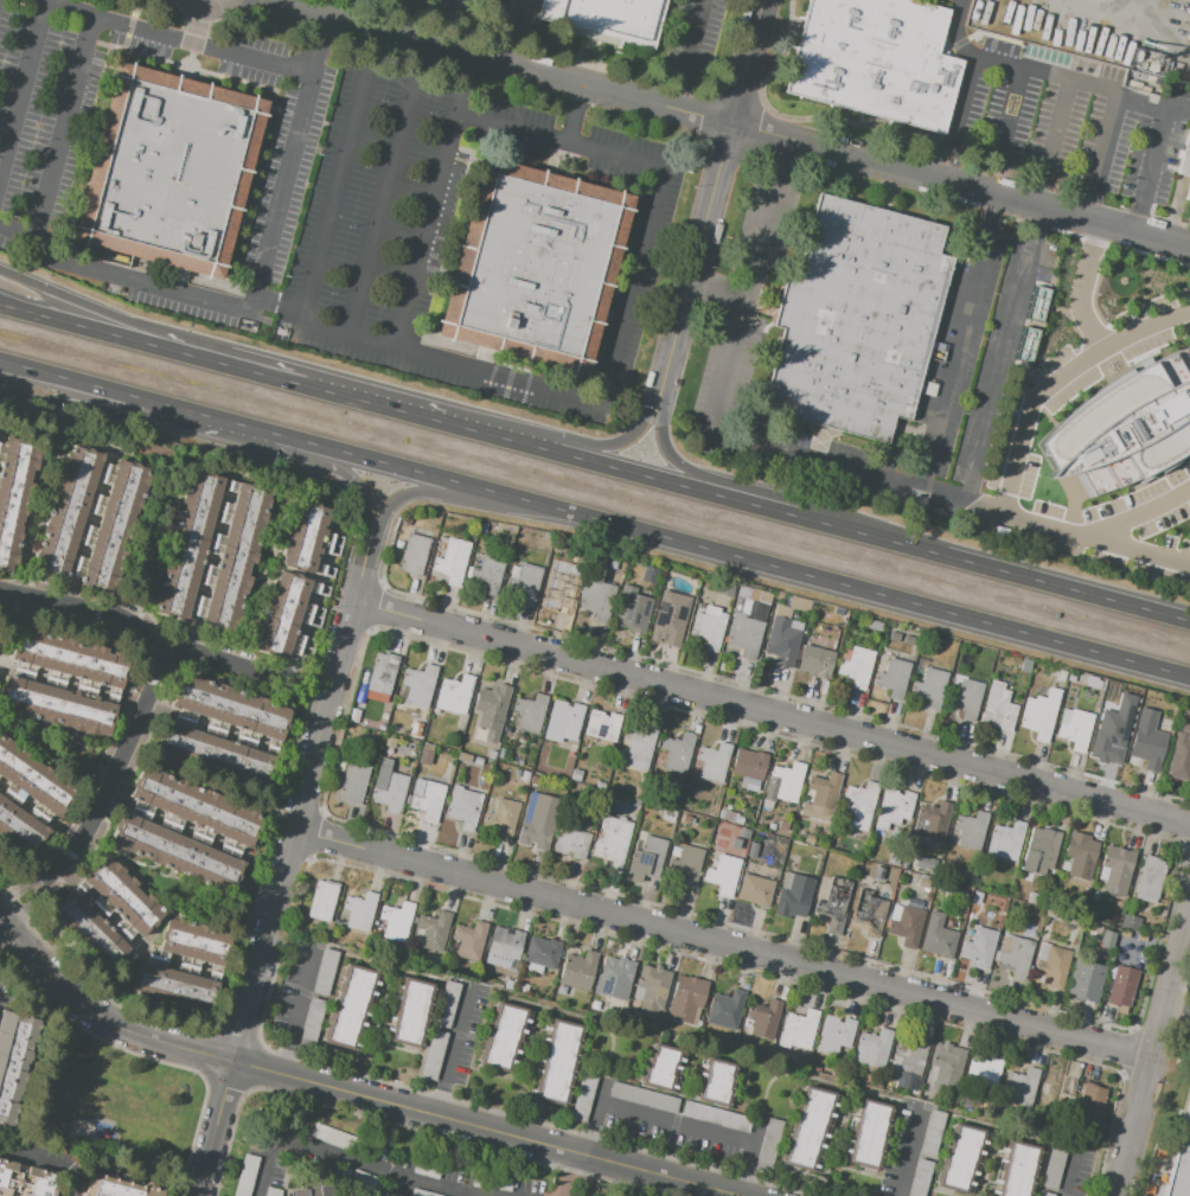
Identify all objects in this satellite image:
building: (604, 20)
road: (957, 30)
road: (503, 31)
road: (177, 38)
building: (1021, 50)
road: (689, 55)
building: (876, 60)
road: (493, 62)
building: (1067, 62)
road: (1035, 72)
road: (23, 81)
road: (1009, 111)
road: (481, 119)
road: (1106, 139)
road: (1054, 142)
building: (1184, 156)
road: (946, 162)
road: (781, 164)
road: (1149, 166)
building: (171, 168)
road: (282, 180)
road: (716, 181)
road: (960, 185)
road: (383, 188)
building: (1188, 192)
road: (1089, 202)
road: (992, 213)
road: (1038, 225)
road: (424, 230)
building: (533, 264)
road: (126, 277)
road: (1081, 287)
building: (1037, 294)
road: (715, 303)
building: (856, 319)
parking lot: (1183, 325)
road: (149, 331)
road: (152, 341)
building: (1025, 341)
road: (954, 365)
road: (493, 373)
road: (997, 375)
road: (418, 411)
road: (126, 412)
building: (1125, 426)
road: (623, 442)
road: (731, 442)
road: (1013, 463)
road: (705, 477)
road: (353, 479)
parking lot: (967, 486)
building: (14, 495)
road: (469, 499)
road: (1138, 516)
building: (89, 519)
building: (405, 520)
road: (594, 520)
building: (481, 527)
road: (862, 531)
building: (303, 537)
building: (212, 551)
building: (414, 554)
building: (452, 559)
building: (513, 573)
building: (487, 574)
building: (524, 583)
building: (417, 587)
building: (725, 588)
building: (559, 591)
building: (595, 595)
building: (703, 595)
building: (761, 596)
building: (792, 607)
building: (632, 610)
building: (757, 612)
building: (289, 614)
building: (672, 619)
building: (743, 626)
building: (709, 628)
building: (876, 637)
building: (894, 637)
building: (782, 640)
building: (908, 640)
building: (814, 660)
road: (224, 661)
building: (855, 665)
building: (1025, 666)
building: (1054, 673)
building: (1061, 676)
building: (1070, 677)
building: (894, 678)
building: (376, 679)
building: (68, 683)
building: (1092, 683)
building: (417, 686)
building: (930, 687)
building: (454, 695)
road: (307, 696)
building: (966, 698)
building: (997, 709)
building: (491, 712)
road: (772, 712)
building: (530, 714)
building: (1041, 714)
building: (383, 716)
road: (137, 722)
building: (563, 722)
building: (602, 724)
building: (380, 728)
building: (1074, 728)
building: (415, 730)
building: (222, 731)
building: (1111, 736)
building: (1146, 743)
building: (452, 746)
building: (638, 746)
building: (1181, 749)
building: (446, 752)
building: (426, 753)
building: (677, 753)
building: (503, 754)
building: (491, 755)
building: (465, 757)
building: (478, 761)
building: (531, 761)
building: (518, 762)
building: (712, 762)
building: (748, 768)
building: (517, 773)
building: (576, 774)
building: (532, 780)
building: (352, 781)
building: (589, 781)
building: (785, 784)
building: (600, 785)
building: (570, 786)
building: (581, 788)
building: (389, 791)
building: (635, 793)
building: (820, 798)
building: (28, 799)
building: (427, 799)
building: (750, 802)
road: (300, 806)
building: (857, 806)
building: (463, 808)
building: (894, 808)
building: (747, 814)
building: (668, 816)
building: (503, 817)
building: (730, 817)
building: (686, 819)
building: (933, 819)
building: (538, 821)
building: (782, 825)
building: (185, 830)
building: (971, 830)
building: (799, 833)
building: (761, 837)
building: (743, 838)
building: (572, 839)
building: (770, 839)
building: (1007, 839)
building: (613, 840)
building: (1043, 843)
building: (1081, 848)
building: (646, 859)
building: (891, 862)
building: (925, 863)
building: (685, 864)
building: (749, 869)
building: (1115, 870)
building: (878, 872)
building: (723, 874)
building: (932, 874)
building: (1150, 878)
building: (925, 883)
building: (340, 888)
building: (942, 888)
building: (755, 890)
building: (1005, 891)
building: (962, 894)
building: (793, 895)
building: (1031, 895)
building: (975, 897)
building: (322, 901)
building: (1082, 902)
building: (834, 903)
building: (914, 903)
building: (109, 908)
building: (360, 912)
building: (868, 913)
building: (1051, 914)
building: (1113, 919)
building: (396, 922)
building: (1130, 922)
building: (904, 923)
road: (2, 926)
building: (1075, 927)
building: (433, 930)
building: (417, 935)
building: (938, 938)
building: (1106, 939)
building: (471, 941)
building: (358, 945)
road: (723, 946)
building: (503, 947)
building: (978, 947)
building: (450, 948)
building: (542, 954)
building: (1013, 954)
building: (185, 960)
building: (1051, 962)
road: (1184, 966)
building: (578, 971)
building: (325, 972)
building: (709, 976)
building: (616, 979)
building: (1086, 981)
building: (495, 985)
building: (508, 985)
building: (1121, 986)
building: (523, 989)
building: (561, 990)
building: (648, 991)
building: (686, 999)
building: (448, 1005)
building: (350, 1006)
building: (725, 1009)
building: (410, 1011)
road: (295, 1015)
building: (764, 1018)
building: (312, 1022)
building: (747, 1023)
building: (651, 1024)
building: (666, 1024)
building: (798, 1030)
building: (833, 1035)
building: (503, 1036)
building: (729, 1044)
building: (872, 1049)
road: (452, 1051)
building: (773, 1051)
building: (434, 1056)
road: (1153, 1056)
building: (910, 1057)
building: (15, 1060)
building: (556, 1061)
building: (661, 1067)
building: (815, 1068)
building: (946, 1068)
building: (989, 1073)
building: (715, 1082)
building: (1019, 1087)
building: (925, 1088)
building: (913, 1091)
building: (1057, 1091)
road: (350, 1093)
building: (583, 1096)
building: (644, 1098)
building: (1092, 1100)
park: (114, 1104)
building: (716, 1117)
road: (674, 1121)
building: (807, 1128)
road: (216, 1130)
building: (866, 1133)
building: (930, 1133)
building: (768, 1145)
road: (904, 1155)
building: (958, 1158)
road: (47, 1160)
road: (358, 1162)
building: (1183, 1168)
building: (1017, 1169)
parking lot: (367, 1170)
building: (1051, 1170)
road: (320, 1171)
road: (575, 1175)
road: (1068, 1176)
building: (920, 1177)
building: (27, 1181)
building: (115, 1185)
road: (686, 1189)
building: (328, 1190)
road: (352, 1190)
building: (297, 1192)
building: (421, 1192)
building: (1044, 1194)
road: (482, 1195)

